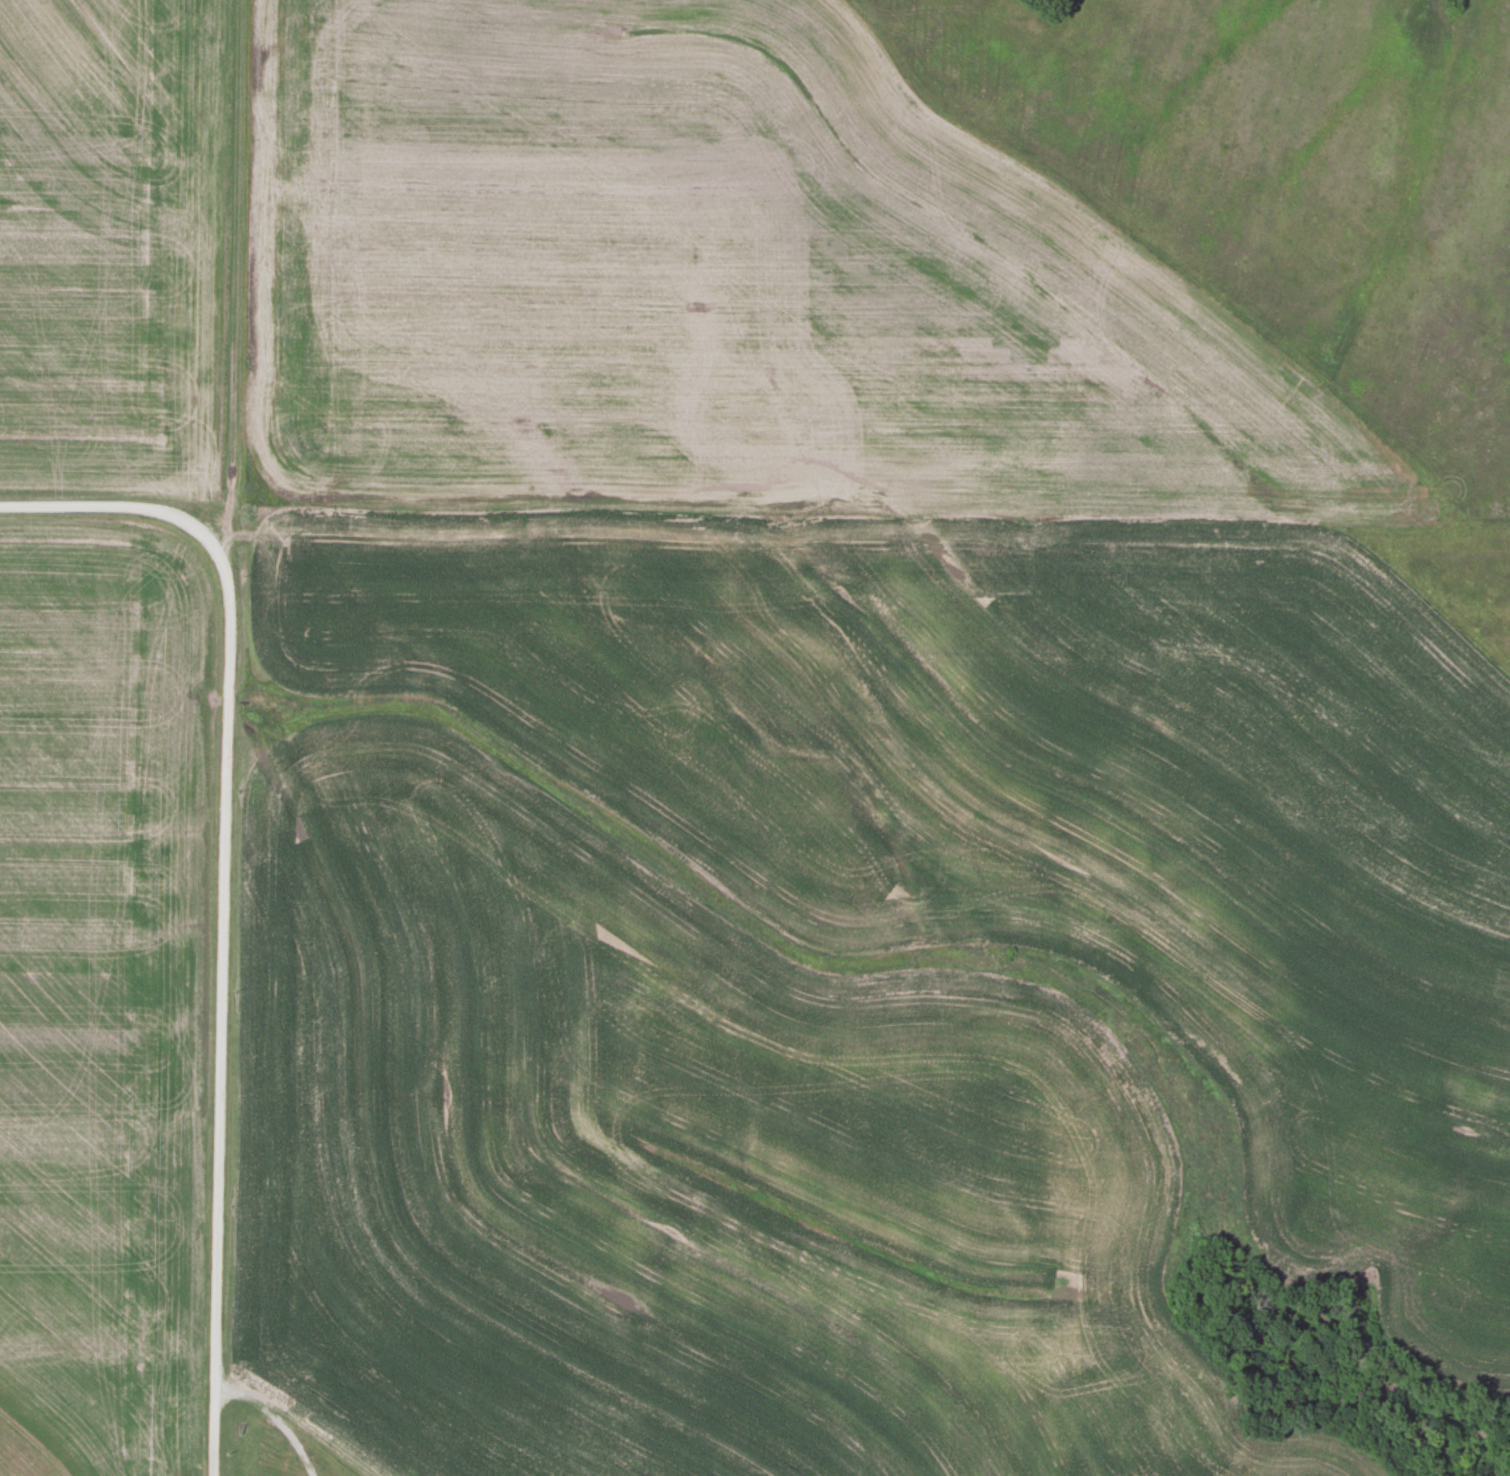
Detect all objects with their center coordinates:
road: (212, 267)
road: (225, 894)

